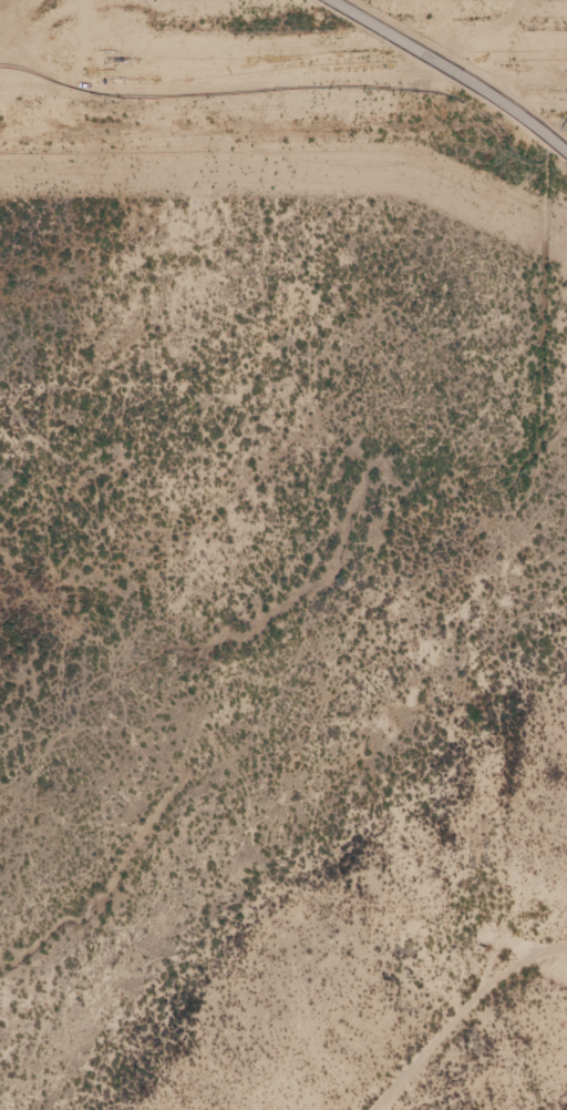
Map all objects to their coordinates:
road: (412, 91)
road: (434, 1021)

